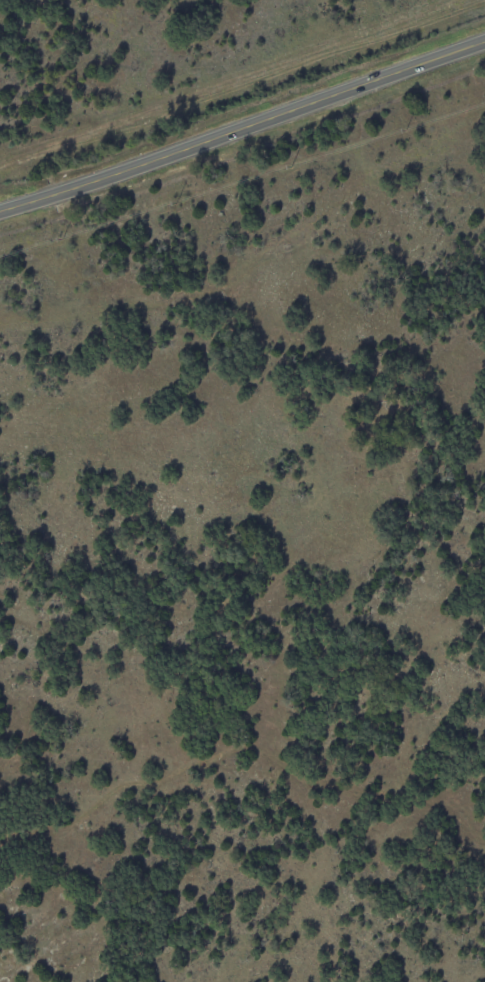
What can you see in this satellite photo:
road: (243, 129)

